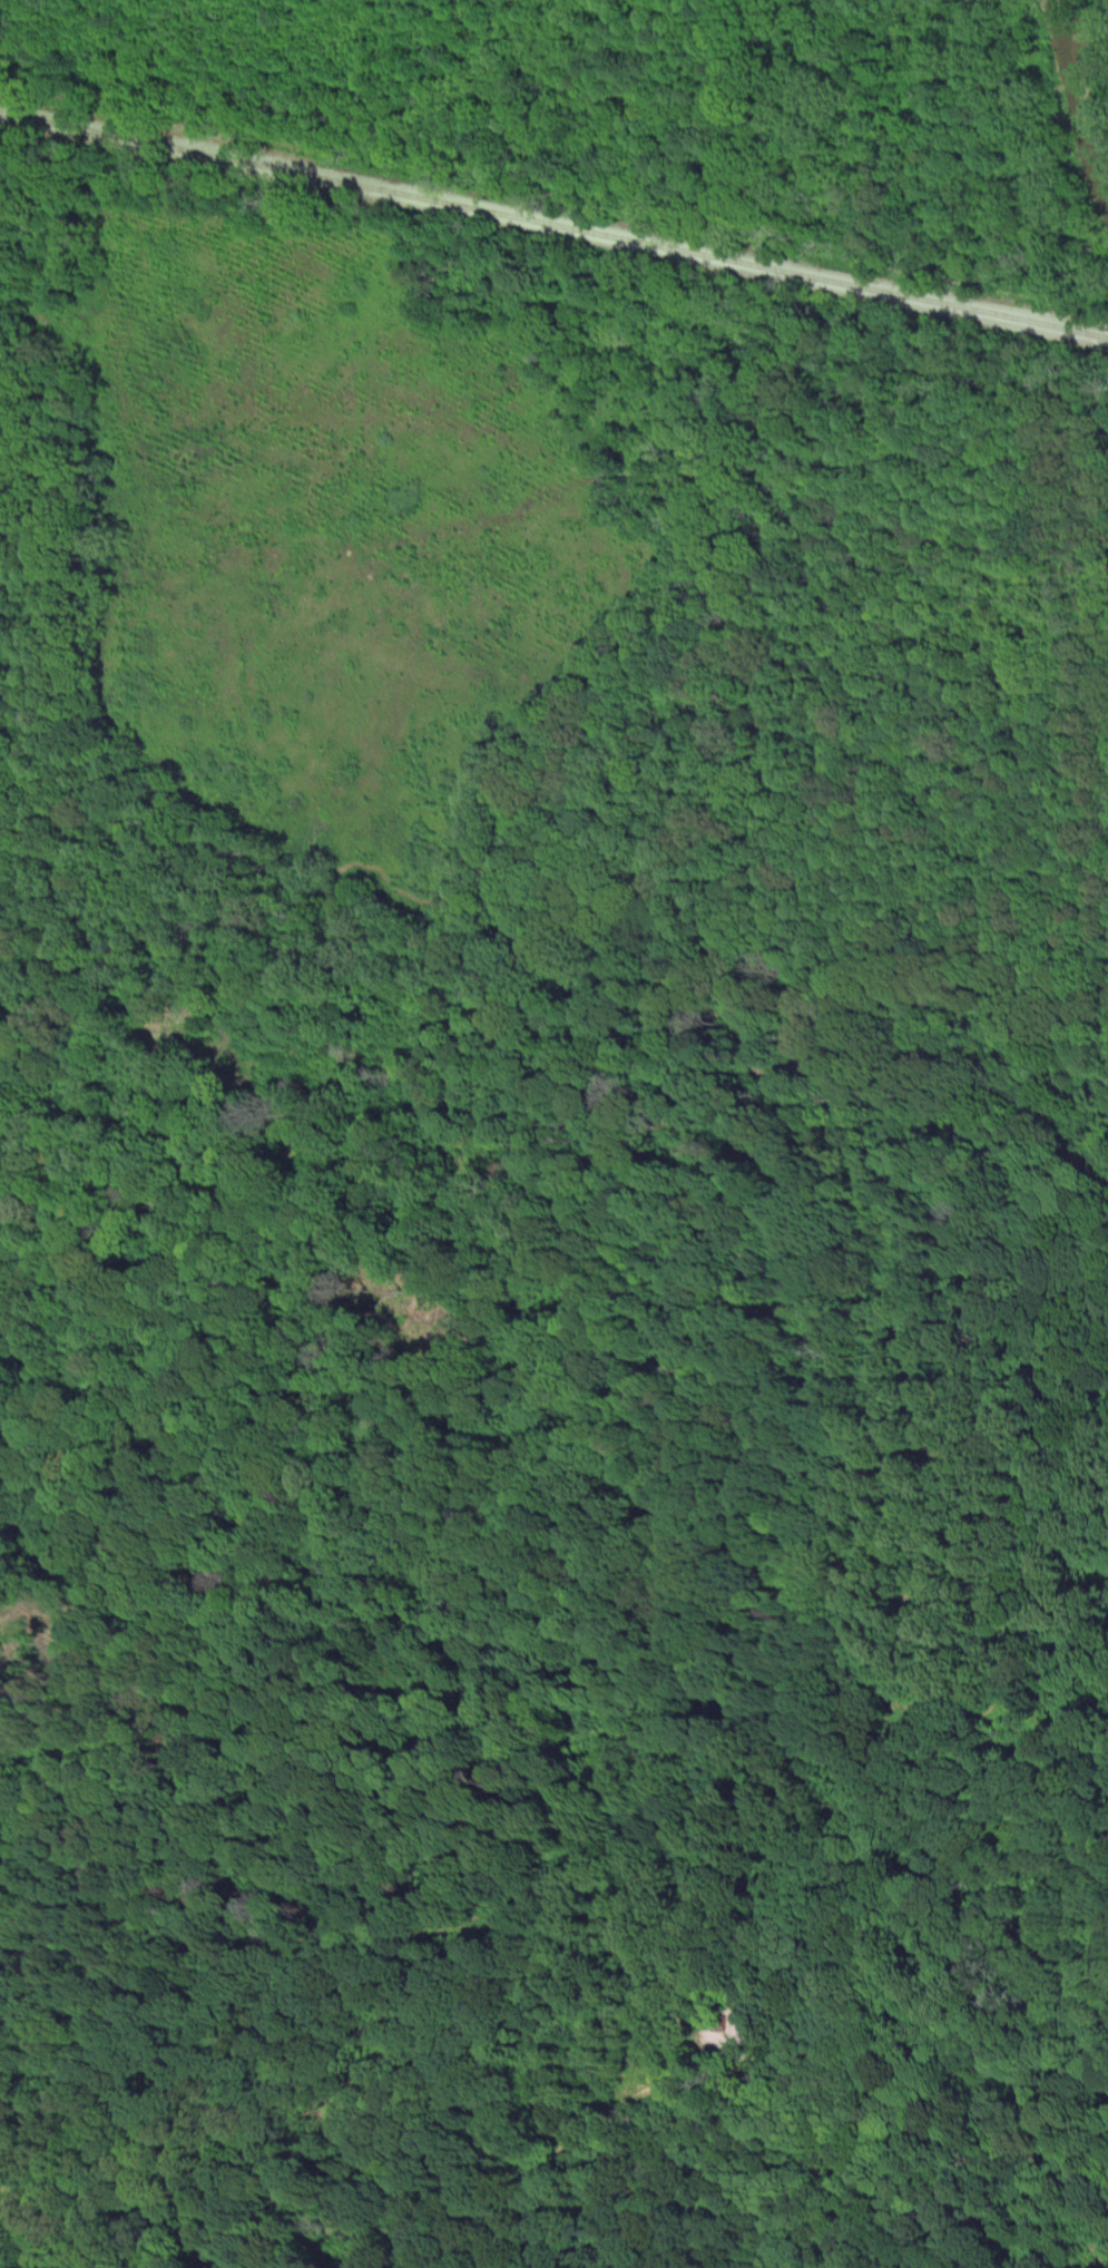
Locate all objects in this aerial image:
river: (1076, 88)
railway: (553, 227)
road: (663, 686)
road: (1073, 1318)
road: (891, 1801)

